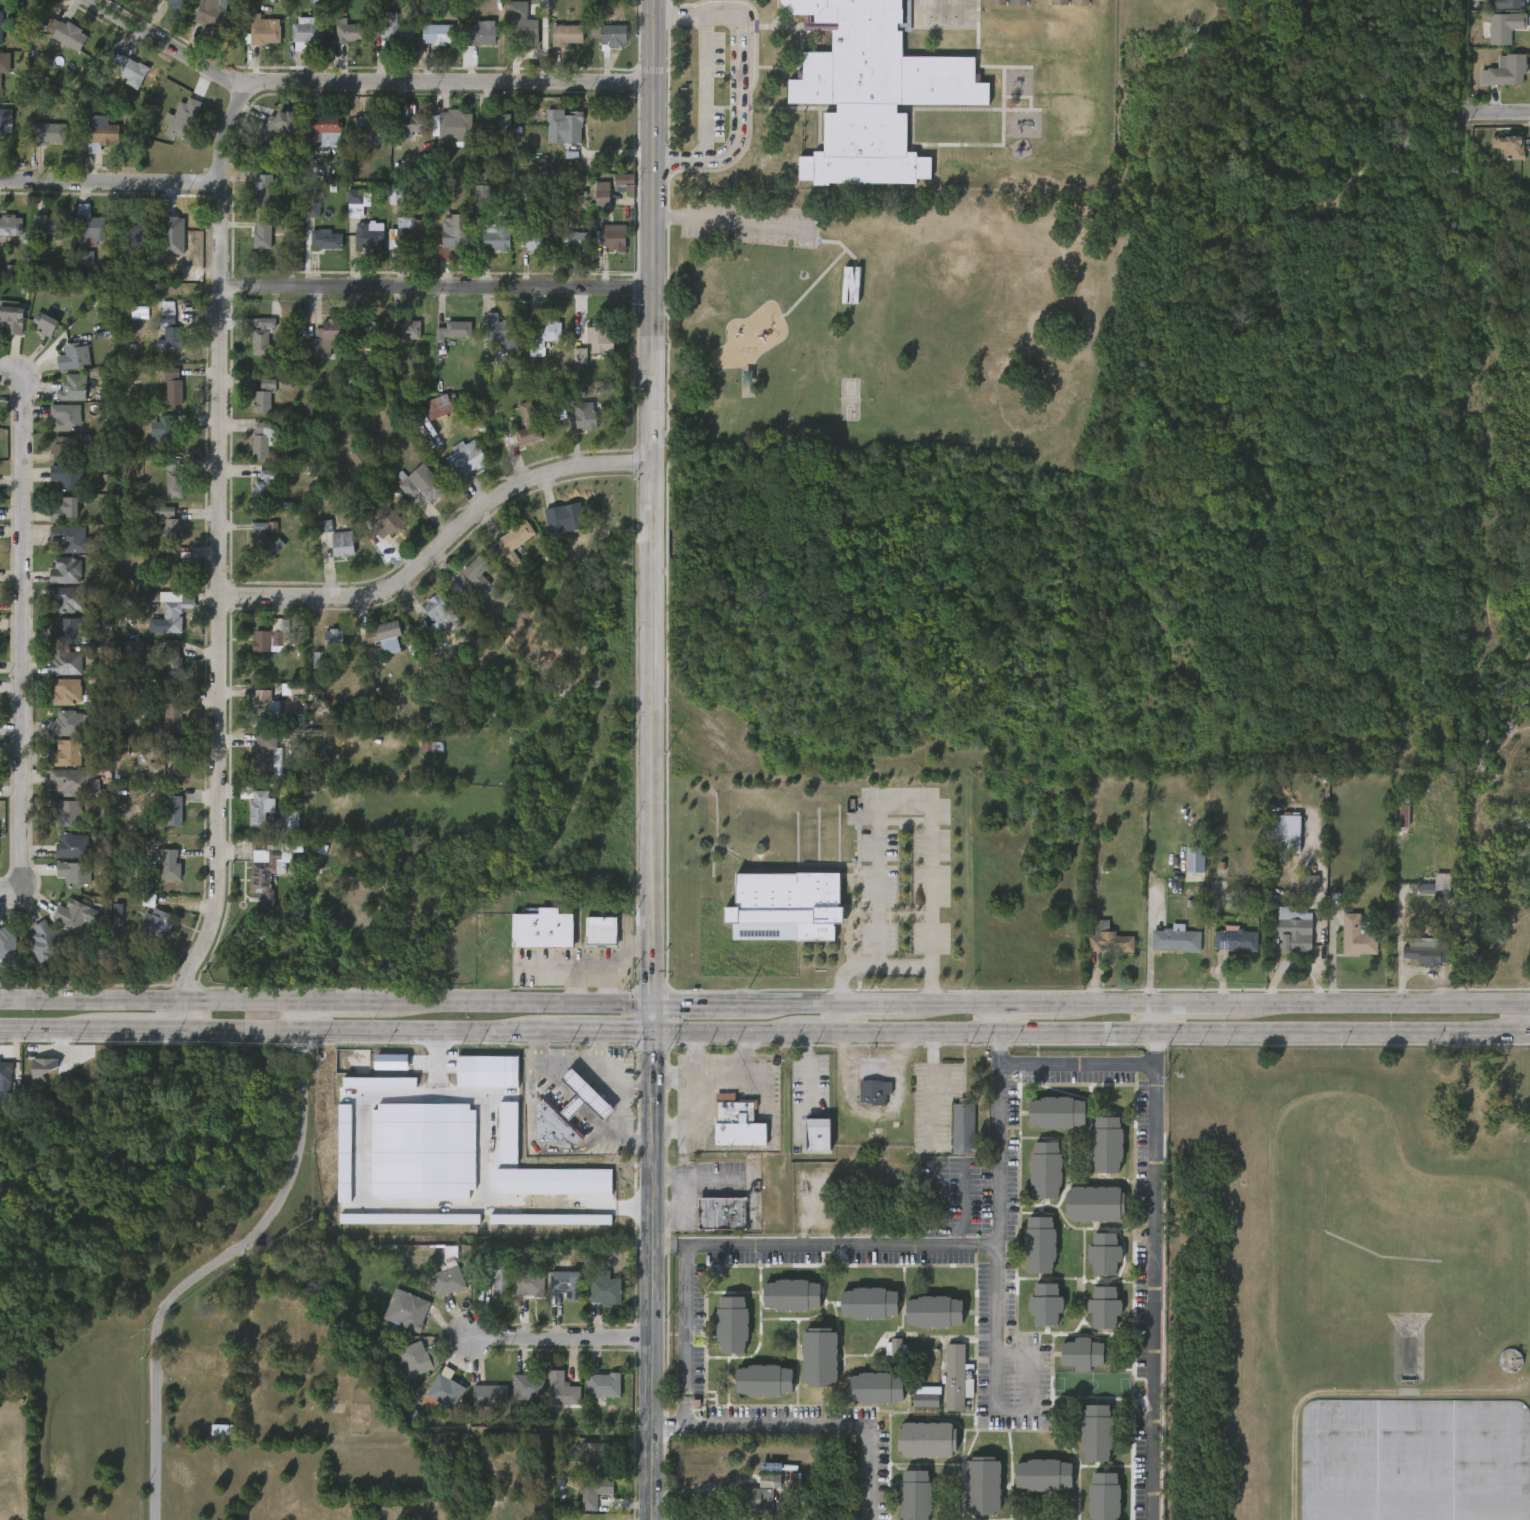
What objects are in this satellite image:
building: (996, 2)
building: (1017, 2)
building: (1059, 2)
building: (1079, 2)
building: (1509, 4)
building: (180, 5)
building: (212, 13)
building: (523, 23)
building: (1, 26)
building: (1501, 28)
building: (395, 30)
building: (263, 32)
building: (309, 33)
building: (350, 33)
building: (67, 34)
building: (438, 34)
building: (481, 34)
building: (564, 35)
building: (612, 35)
building: (4, 64)
building: (130, 71)
building: (1505, 72)
road: (361, 81)
building: (97, 82)
road: (738, 85)
road: (704, 87)
building: (869, 90)
road: (1507, 113)
building: (184, 119)
building: (5, 120)
building: (493, 123)
building: (566, 123)
building: (411, 125)
building: (330, 126)
building: (370, 126)
building: (453, 126)
building: (275, 128)
building: (48, 134)
building: (101, 136)
building: (1509, 146)
building: (485, 166)
building: (285, 175)
road: (110, 181)
building: (624, 182)
building: (262, 189)
building: (603, 194)
building: (396, 196)
building: (482, 197)
building: (355, 202)
building: (549, 209)
building: (312, 210)
road: (727, 222)
parking lot: (748, 224)
building: (10, 225)
building: (88, 227)
building: (139, 228)
building: (48, 229)
building: (410, 232)
building: (262, 235)
building: (370, 235)
building: (451, 235)
building: (498, 237)
building: (326, 240)
building: (533, 240)
building: (575, 241)
building: (611, 241)
building: (86, 257)
road: (436, 286)
building: (849, 286)
building: (12, 320)
park: (889, 320)
building: (46, 323)
building: (169, 328)
building: (410, 331)
building: (455, 331)
building: (502, 332)
building: (370, 333)
building: (262, 334)
building: (541, 335)
building: (327, 337)
building: (598, 337)
building: (580, 356)
building: (73, 357)
building: (173, 386)
building: (72, 389)
building: (266, 396)
park: (848, 399)
building: (434, 407)
building: (582, 415)
building: (65, 417)
building: (528, 426)
building: (169, 435)
building: (266, 440)
building: (62, 449)
building: (359, 458)
building: (466, 458)
building: (173, 475)
building: (69, 477)
building: (419, 483)
building: (263, 488)
road: (650, 500)
building: (67, 509)
building: (562, 517)
building: (169, 524)
building: (387, 525)
building: (324, 527)
building: (70, 539)
building: (269, 539)
building: (510, 542)
building: (343, 545)
road: (438, 547)
road: (219, 557)
building: (173, 567)
building: (67, 571)
building: (473, 577)
building: (67, 599)
building: (434, 613)
building: (177, 615)
road: (22, 632)
building: (70, 632)
building: (380, 632)
building: (275, 638)
building: (334, 639)
building: (134, 651)
building: (319, 660)
building: (68, 662)
building: (172, 665)
building: (66, 691)
building: (273, 701)
building: (176, 708)
building: (67, 723)
building: (268, 753)
building: (69, 754)
building: (174, 758)
building: (78, 782)
road: (907, 802)
building: (259, 805)
building: (170, 809)
building: (65, 812)
building: (1404, 812)
building: (1283, 829)
building: (72, 845)
building: (1197, 859)
building: (169, 863)
building: (276, 870)
building: (75, 873)
building: (1308, 882)
building: (1432, 888)
building: (785, 906)
building: (76, 914)
building: (158, 924)
building: (538, 930)
building: (597, 932)
building: (1298, 933)
building: (1357, 933)
building: (1107, 938)
building: (1179, 938)
building: (1238, 939)
building: (44, 942)
building: (8, 943)
building: (1428, 950)
road: (870, 965)
road: (149, 998)
road: (345, 1000)
road: (522, 1000)
traffic signals: (653, 1001)
road: (707, 1001)
road: (800, 1001)
road: (871, 1002)
road: (951, 1002)
road: (1030, 1002)
road: (1110, 1003)
road: (1194, 1003)
road: (1381, 1004)
road: (653, 1016)
road: (1156, 1018)
road: (997, 1026)
road: (56, 1029)
road: (149, 1030)
road: (364, 1031)
road: (598, 1032)
traffic signals: (654, 1032)
road: (725, 1032)
road: (813, 1032)
road: (993, 1033)
road: (1343, 1034)
road: (1157, 1042)
road: (690, 1052)
road: (1156, 1058)
building: (391, 1062)
road: (567, 1062)
road: (438, 1065)
road: (1077, 1065)
building: (43, 1069)
building: (487, 1072)
road: (714, 1072)
building: (6, 1075)
building: (379, 1082)
road: (635, 1087)
road: (931, 1090)
building: (873, 1091)
building: (580, 1096)
gas station: (580, 1096)
road: (569, 1105)
building: (1055, 1109)
road: (618, 1113)
road: (688, 1115)
building: (735, 1121)
building: (549, 1124)
building: (965, 1128)
building: (813, 1132)
building: (508, 1133)
building: (1105, 1142)
building: (423, 1151)
building: (345, 1153)
building: (1045, 1167)
building: (553, 1182)
building: (1095, 1200)
building: (719, 1213)
building: (409, 1219)
building: (550, 1219)
building: (1038, 1243)
road: (834, 1247)
road: (663, 1249)
building: (1103, 1252)
road: (225, 1260)
building: (493, 1275)
road: (653, 1275)
building: (449, 1278)
building: (526, 1283)
building: (563, 1283)
road: (996, 1283)
building: (603, 1290)
building: (790, 1292)
road: (1153, 1292)
building: (867, 1301)
building: (1044, 1302)
building: (1102, 1304)
building: (407, 1310)
building: (931, 1310)
road: (684, 1321)
building: (730, 1322)
road: (562, 1337)
building: (1080, 1352)
building: (817, 1354)
building: (415, 1359)
building: (192, 1364)
building: (953, 1375)
building: (761, 1378)
building: (605, 1386)
building: (873, 1386)
building: (530, 1387)
building: (442, 1391)
building: (563, 1391)
building: (490, 1397)
building: (928, 1399)
road: (684, 1408)
road: (677, 1423)
road: (830, 1424)
building: (1094, 1430)
building: (224, 1433)
building: (924, 1437)
building: (601, 1458)
building: (1415, 1460)
building: (1041, 1474)
building: (769, 1481)
building: (982, 1484)
building: (593, 1493)
building: (913, 1494)
building: (1103, 1496)
building: (753, 1504)
building: (601, 1519)

